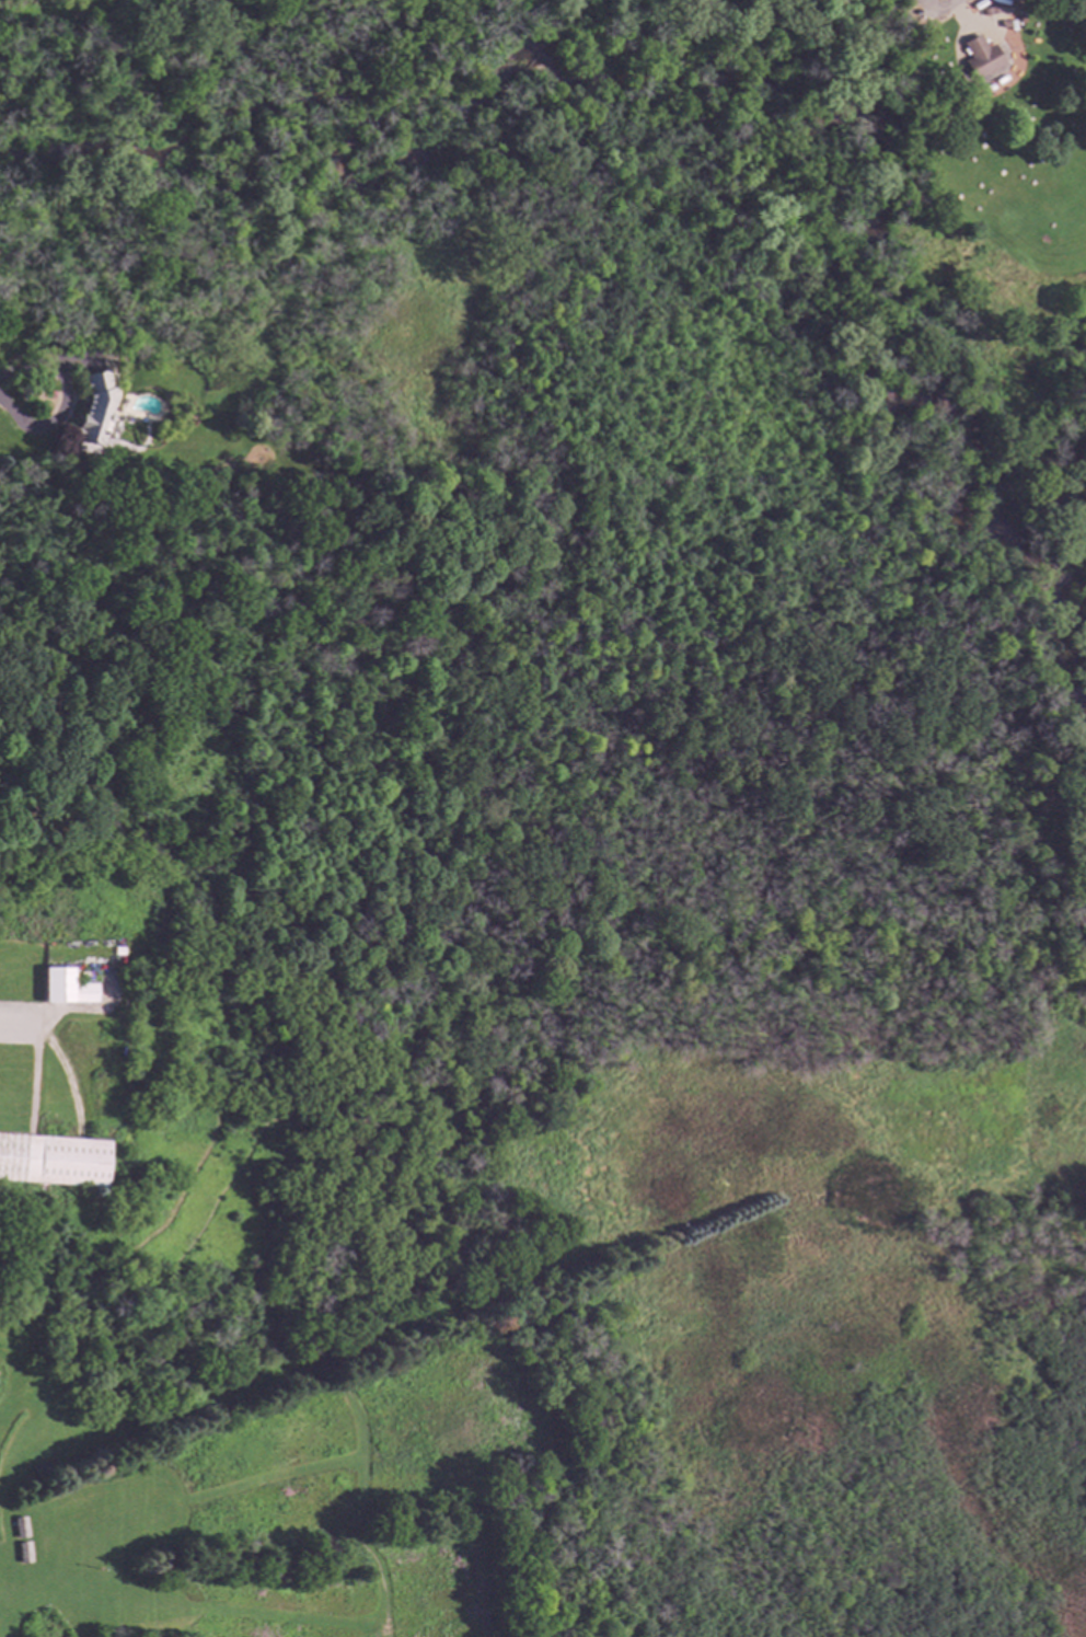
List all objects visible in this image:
parking lot: (926, 10)
road: (927, 11)
building: (978, 57)
building: (1041, 187)
road: (63, 402)
building: (94, 408)
river: (1075, 570)
road: (235, 584)
park: (555, 830)
road: (396, 918)
building: (66, 987)
road: (14, 1025)
building: (53, 1160)
building: (39, 1468)
building: (20, 1526)
building: (23, 1552)

